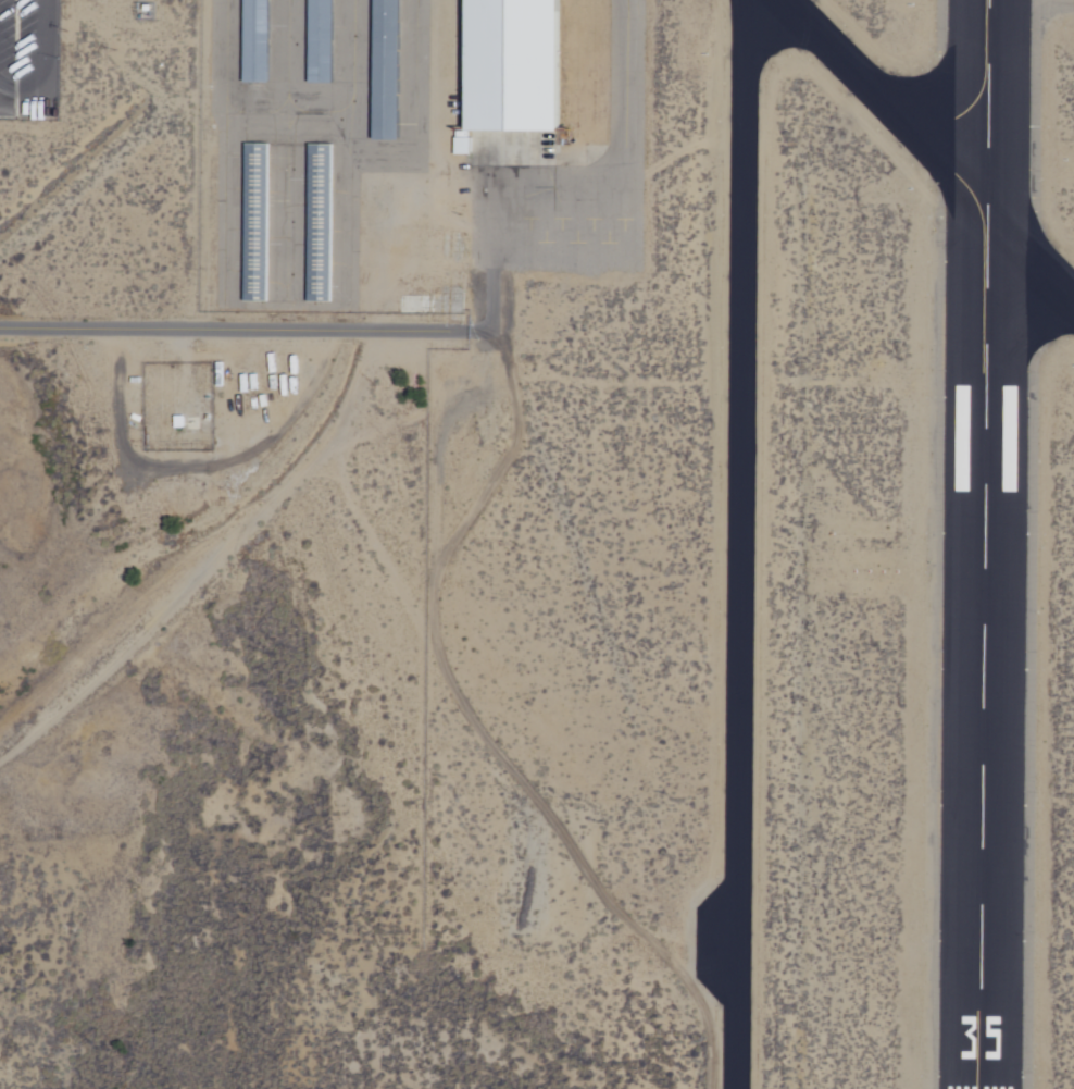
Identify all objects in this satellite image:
building: (253, 40)
building: (319, 41)
building: (513, 64)
road: (46, 67)
building: (386, 67)
airport taxiway: (922, 150)
building: (254, 220)
building: (317, 222)
road: (240, 329)
building: (1006, 436)
airport taxiway: (738, 540)
airport: (537, 544)
airport runway: (984, 544)

